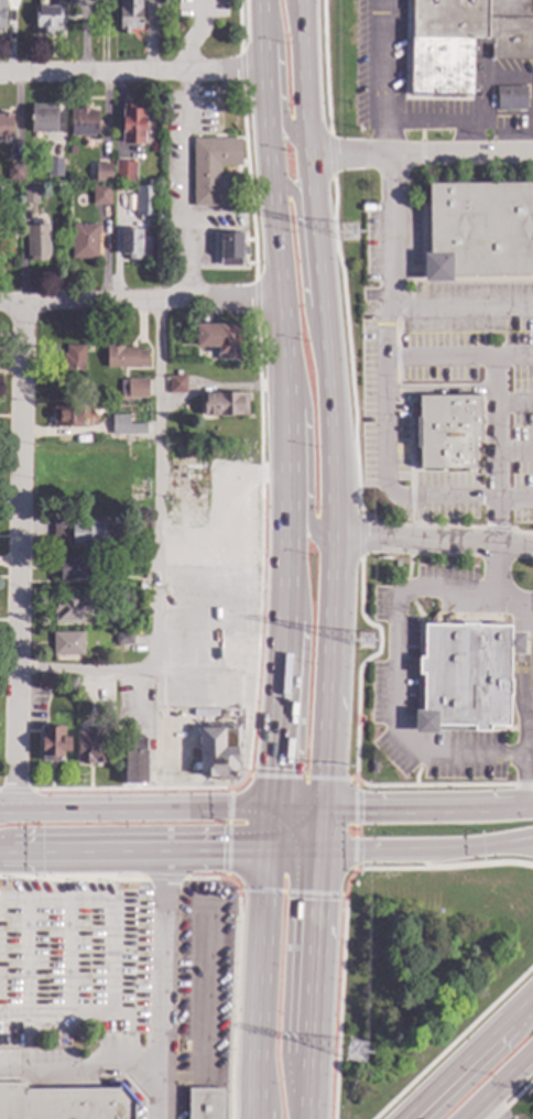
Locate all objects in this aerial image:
building: (2, 14)
building: (129, 14)
building: (48, 19)
road: (294, 19)
road: (196, 37)
building: (461, 42)
road: (131, 74)
road: (380, 77)
road: (280, 83)
building: (512, 98)
building: (44, 118)
building: (84, 121)
building: (6, 124)
building: (132, 124)
road: (418, 154)
building: (55, 166)
building: (215, 170)
building: (124, 171)
building: (15, 172)
building: (104, 172)
road: (186, 188)
building: (31, 195)
building: (101, 195)
building: (145, 202)
building: (478, 229)
power tower: (350, 233)
building: (7, 240)
building: (37, 241)
building: (85, 241)
building: (134, 243)
building: (231, 249)
road: (278, 268)
road: (302, 272)
road: (140, 304)
road: (464, 308)
building: (220, 338)
road: (457, 347)
building: (126, 357)
building: (74, 365)
parking lot: (443, 378)
building: (177, 383)
building: (138, 388)
building: (93, 391)
road: (514, 393)
road: (384, 402)
building: (225, 403)
building: (67, 415)
building: (127, 425)
building: (447, 431)
road: (496, 433)
road: (514, 439)
road: (305, 458)
road: (159, 487)
building: (85, 532)
road: (432, 543)
road: (333, 558)
road: (19, 559)
building: (138, 564)
building: (73, 567)
building: (142, 586)
building: (126, 604)
road: (531, 608)
building: (72, 609)
building: (124, 638)
power tower: (369, 641)
building: (67, 642)
road: (85, 667)
building: (465, 675)
building: (45, 681)
building: (72, 695)
road: (278, 695)
road: (531, 714)
building: (54, 743)
building: (93, 747)
road: (412, 749)
building: (219, 751)
building: (135, 762)
building: (373, 767)
road: (530, 783)
road: (532, 807)
road: (532, 807)
road: (133, 812)
traffic signals: (269, 812)
traffic signals: (324, 813)
road: (400, 813)
road: (520, 841)
road: (460, 847)
road: (520, 847)
road: (132, 851)
traffic signals: (266, 852)
road: (293, 852)
road: (367, 852)
traffic signals: (320, 854)
road: (421, 860)
road: (480, 863)
road: (162, 985)
road: (259, 985)
building: (79, 1034)
power tower: (360, 1054)
road: (469, 1056)
road: (80, 1072)
road: (499, 1086)
building: (65, 1102)
building: (204, 1102)
road: (490, 1110)

